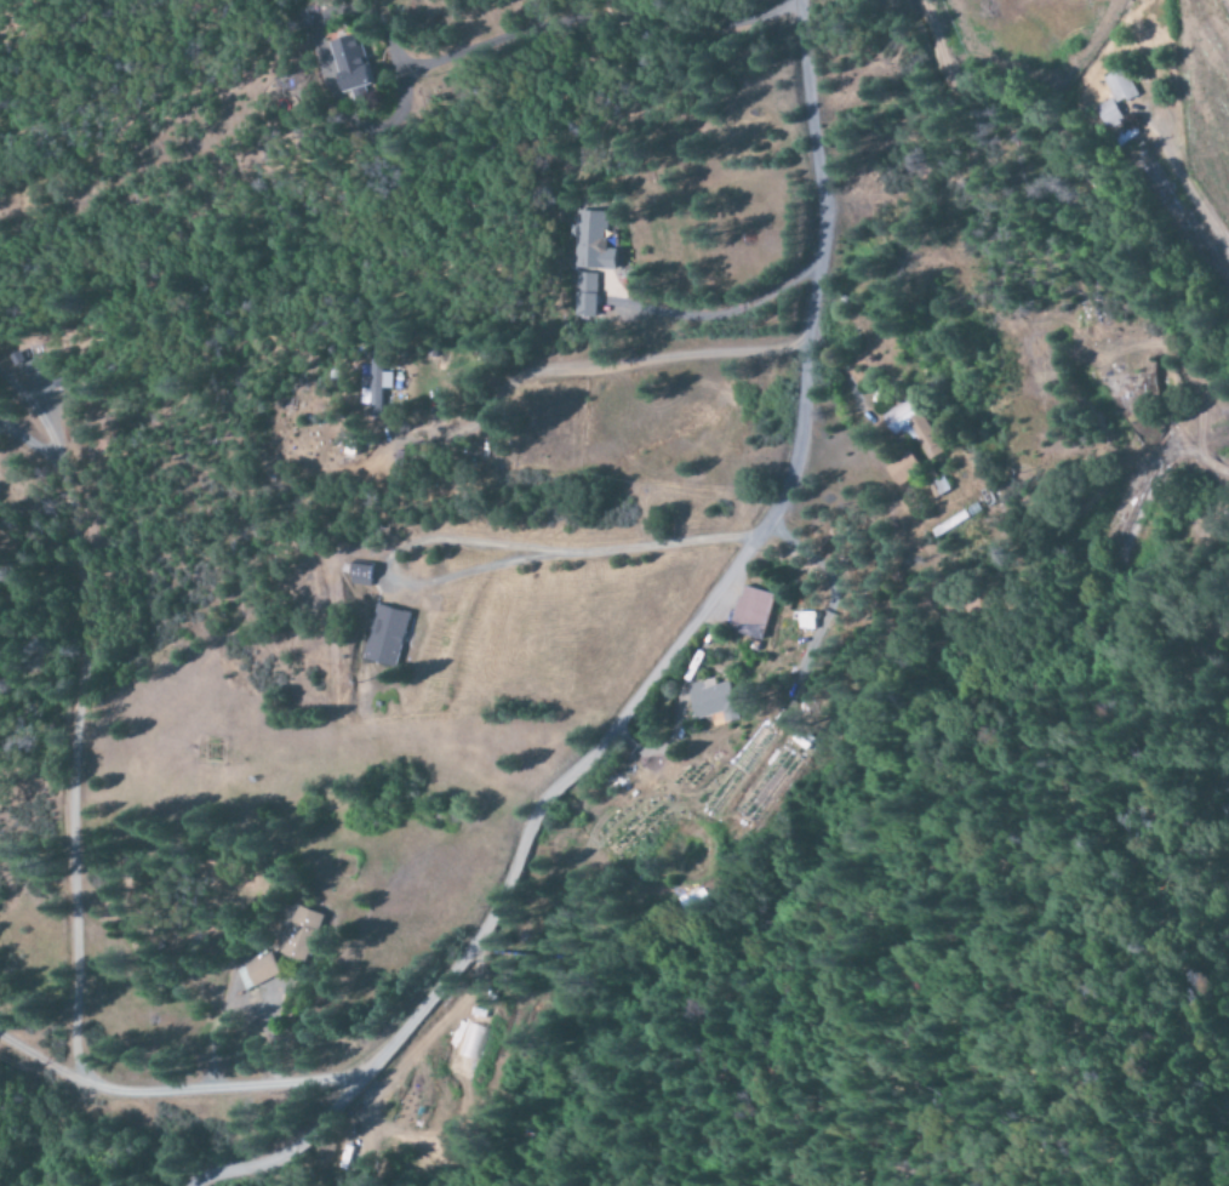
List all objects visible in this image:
building: (351, 64)
building: (1120, 87)
building: (1108, 114)
building: (588, 260)
building: (373, 388)
building: (910, 428)
building: (903, 468)
building: (361, 572)
building: (753, 614)
building: (806, 621)
building: (385, 637)
road: (657, 673)
building: (714, 701)
building: (302, 935)
building: (257, 971)

